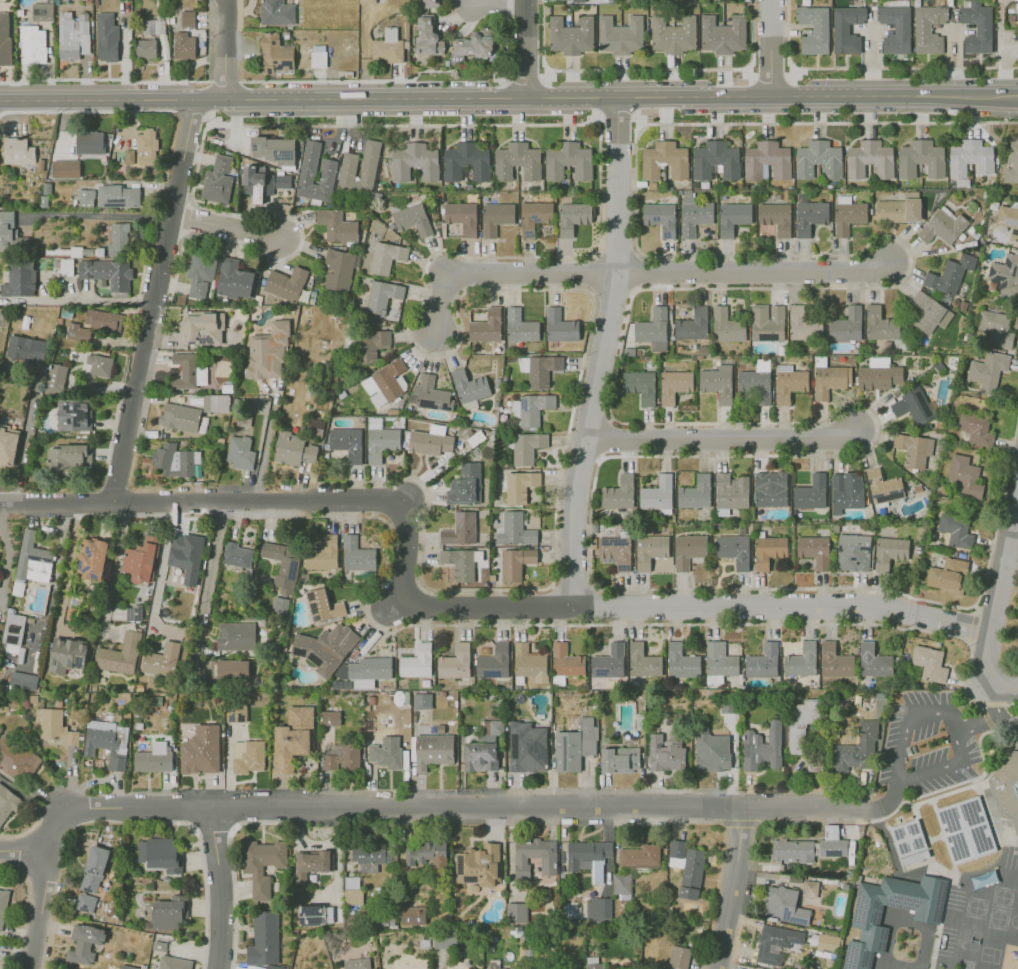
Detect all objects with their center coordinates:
building: (571, 0)
building: (367, 1)
building: (428, 3)
road: (496, 6)
building: (42, 12)
building: (276, 12)
building: (1017, 17)
building: (187, 19)
building: (976, 26)
building: (154, 27)
building: (846, 28)
building: (895, 28)
building: (928, 28)
building: (814, 29)
building: (619, 34)
building: (672, 34)
building: (722, 34)
building: (73, 35)
building: (570, 35)
building: (428, 36)
road: (542, 36)
building: (107, 37)
road: (752, 37)
building: (5, 38)
building: (33, 45)
building: (184, 45)
building: (472, 45)
building: (387, 46)
road: (528, 46)
road: (770, 46)
road: (226, 47)
road: (1000, 47)
building: (146, 49)
building: (275, 54)
road: (899, 67)
road: (646, 69)
road: (104, 79)
road: (770, 80)
road: (224, 81)
road: (377, 81)
road: (524, 82)
road: (764, 93)
road: (198, 94)
road: (463, 94)
road: (1009, 94)
road: (86, 111)
road: (616, 112)
road: (190, 113)
road: (823, 122)
road: (402, 125)
building: (89, 142)
building: (147, 147)
building: (274, 149)
building: (18, 151)
building: (129, 156)
building: (971, 158)
building: (869, 159)
building: (921, 159)
building: (665, 160)
building: (716, 160)
building: (767, 160)
building: (818, 160)
building: (466, 161)
building: (517, 161)
building: (569, 161)
building: (414, 162)
building: (1012, 162)
building: (360, 168)
building: (65, 169)
building: (307, 172)
building: (218, 180)
building: (283, 181)
building: (254, 182)
building: (119, 196)
building: (85, 197)
building: (899, 209)
building: (694, 215)
building: (848, 215)
road: (100, 216)
building: (534, 216)
building: (810, 216)
building: (462, 217)
building: (573, 217)
building: (733, 217)
building: (776, 217)
building: (496, 218)
building: (661, 218)
building: (413, 219)
building: (1009, 221)
building: (337, 226)
building: (943, 226)
building: (6, 228)
road: (228, 229)
building: (118, 239)
building: (386, 257)
building: (340, 269)
building: (200, 273)
building: (108, 274)
road: (756, 274)
building: (950, 274)
road: (502, 275)
building: (1005, 275)
building: (234, 279)
building: (19, 280)
building: (286, 283)
road: (156, 289)
building: (382, 296)
road: (103, 301)
building: (929, 313)
building: (103, 321)
building: (767, 322)
building: (846, 324)
building: (881, 324)
building: (693, 325)
building: (803, 325)
building: (487, 326)
building: (520, 326)
building: (560, 326)
building: (727, 326)
building: (202, 328)
building: (996, 328)
building: (653, 329)
building: (78, 332)
building: (374, 344)
building: (26, 348)
building: (268, 351)
road: (603, 351)
building: (99, 365)
building: (540, 369)
building: (988, 370)
building: (189, 371)
building: (55, 377)
building: (830, 380)
building: (385, 383)
building: (718, 383)
building: (789, 383)
building: (674, 385)
building: (755, 385)
building: (470, 386)
building: (640, 386)
building: (431, 394)
building: (216, 403)
building: (913, 406)
building: (259, 407)
building: (532, 408)
building: (73, 415)
building: (180, 417)
building: (976, 429)
road: (722, 439)
building: (380, 440)
building: (431, 441)
road: (265, 443)
building: (347, 443)
building: (8, 447)
building: (527, 447)
building: (293, 449)
building: (914, 449)
road: (22, 450)
building: (240, 452)
building: (67, 458)
building: (175, 460)
building: (965, 477)
building: (464, 484)
building: (520, 486)
building: (884, 487)
building: (770, 489)
building: (731, 491)
building: (846, 491)
building: (696, 492)
building: (619, 493)
building: (811, 493)
building: (658, 495)
road: (157, 503)
road: (360, 505)
road: (1014, 525)
road: (62, 527)
building: (460, 529)
building: (956, 529)
building: (515, 530)
building: (650, 550)
building: (688, 550)
building: (735, 550)
building: (815, 550)
building: (616, 551)
building: (768, 551)
building: (853, 552)
building: (890, 552)
building: (323, 554)
building: (357, 554)
building: (236, 555)
building: (186, 556)
building: (91, 558)
building: (140, 560)
building: (31, 561)
building: (462, 563)
building: (516, 563)
road: (68, 564)
building: (282, 565)
road: (163, 566)
road: (113, 573)
building: (947, 575)
road: (54, 584)
road: (206, 589)
road: (997, 590)
building: (280, 603)
building: (323, 606)
road: (647, 607)
building: (133, 613)
building: (13, 629)
building: (236, 636)
building: (324, 648)
building: (67, 654)
building: (120, 655)
building: (162, 660)
building: (801, 660)
building: (566, 661)
building: (643, 661)
building: (763, 661)
building: (836, 661)
building: (874, 661)
building: (417, 662)
building: (455, 662)
building: (494, 662)
building: (609, 662)
building: (682, 662)
building: (529, 663)
building: (719, 663)
building: (929, 663)
building: (233, 670)
building: (369, 671)
building: (24, 680)
road: (999, 691)
building: (422, 701)
building: (236, 713)
road: (998, 714)
building: (329, 717)
road: (978, 723)
building: (55, 726)
building: (292, 738)
building: (107, 742)
building: (575, 745)
building: (527, 747)
building: (762, 747)
building: (201, 750)
building: (431, 750)
building: (483, 750)
building: (712, 751)
building: (666, 752)
building: (248, 756)
building: (854, 756)
building: (384, 757)
building: (343, 758)
building: (17, 759)
building: (154, 759)
building: (620, 759)
road: (899, 771)
building: (1006, 789)
building: (8, 803)
road: (884, 804)
road: (134, 805)
road: (571, 808)
building: (967, 832)
building: (910, 843)
building: (809, 847)
building: (160, 854)
building: (426, 854)
building: (371, 856)
building: (535, 856)
building: (588, 856)
building: (640, 856)
building: (262, 865)
building: (310, 865)
building: (478, 865)
building: (687, 867)
building: (94, 869)
building: (980, 880)
building: (621, 885)
road: (222, 887)
building: (810, 888)
road: (730, 889)
building: (352, 890)
road: (43, 895)
building: (85, 902)
building: (784, 905)
building: (3, 906)
building: (596, 909)
building: (516, 912)
building: (169, 913)
building: (315, 915)
building: (413, 915)
building: (868, 923)
building: (445, 940)
building: (264, 942)
building: (828, 942)
building: (85, 943)
building: (776, 943)
building: (159, 945)
building: (679, 957)
building: (173, 963)
building: (357, 963)
building: (593, 966)
building: (127, 967)

